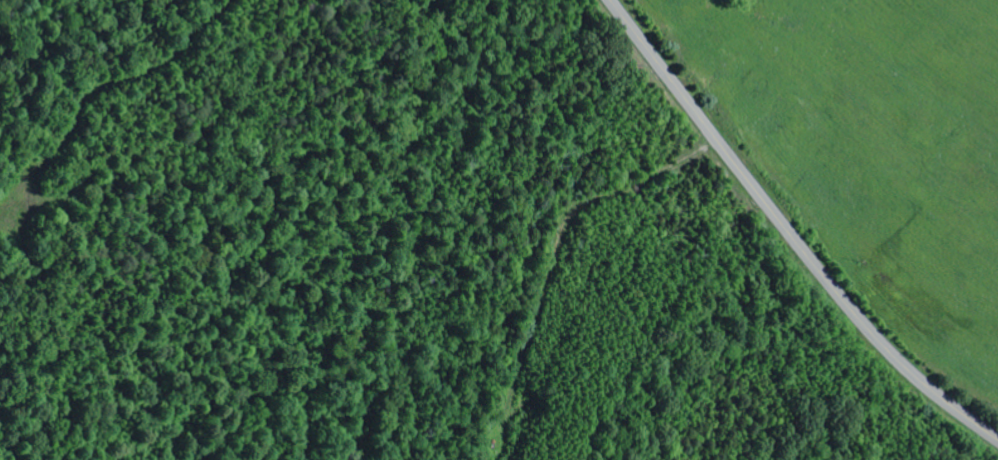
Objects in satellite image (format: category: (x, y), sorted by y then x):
road: (790, 233)

